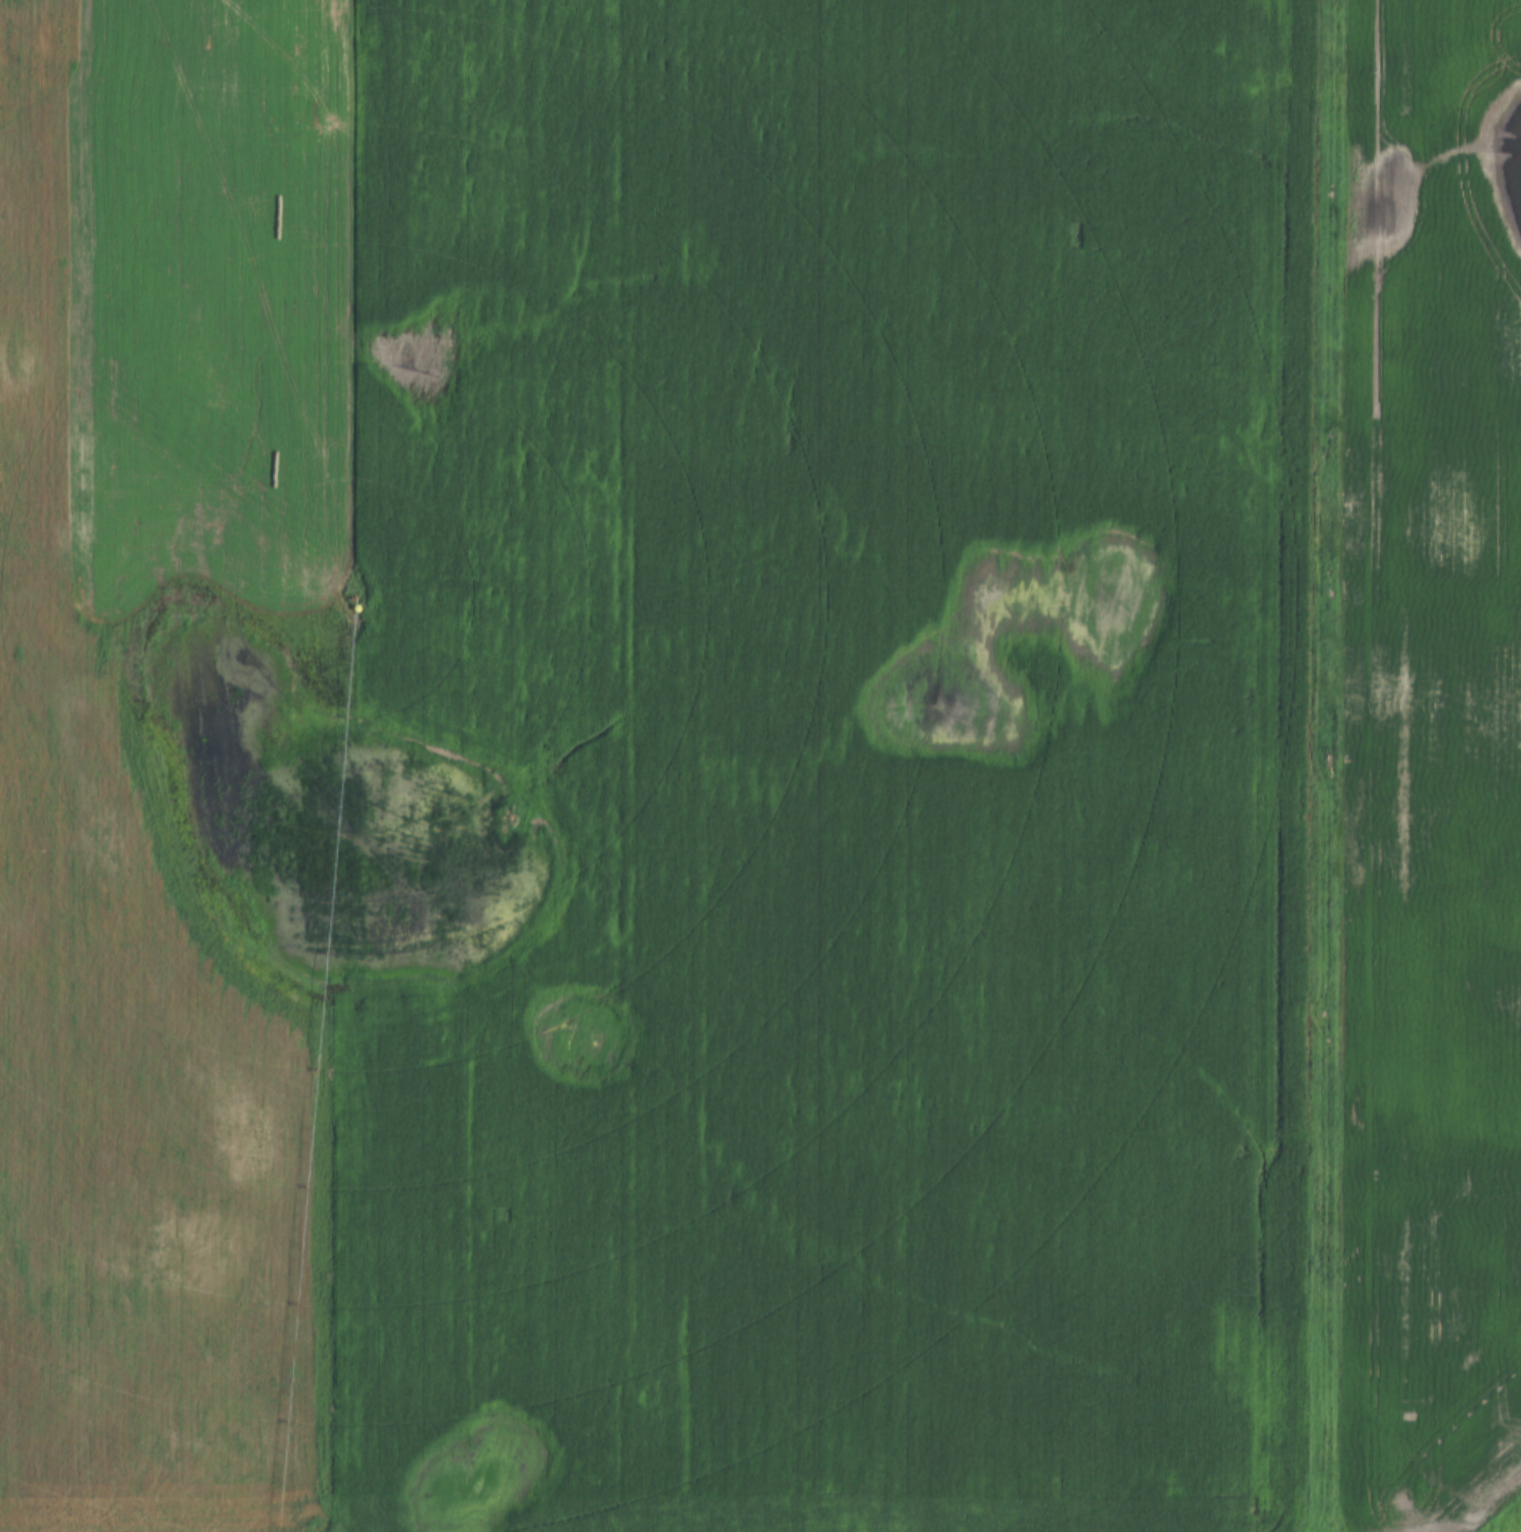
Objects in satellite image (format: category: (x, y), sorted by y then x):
road: (1320, 766)
crop: (1423, 766)

